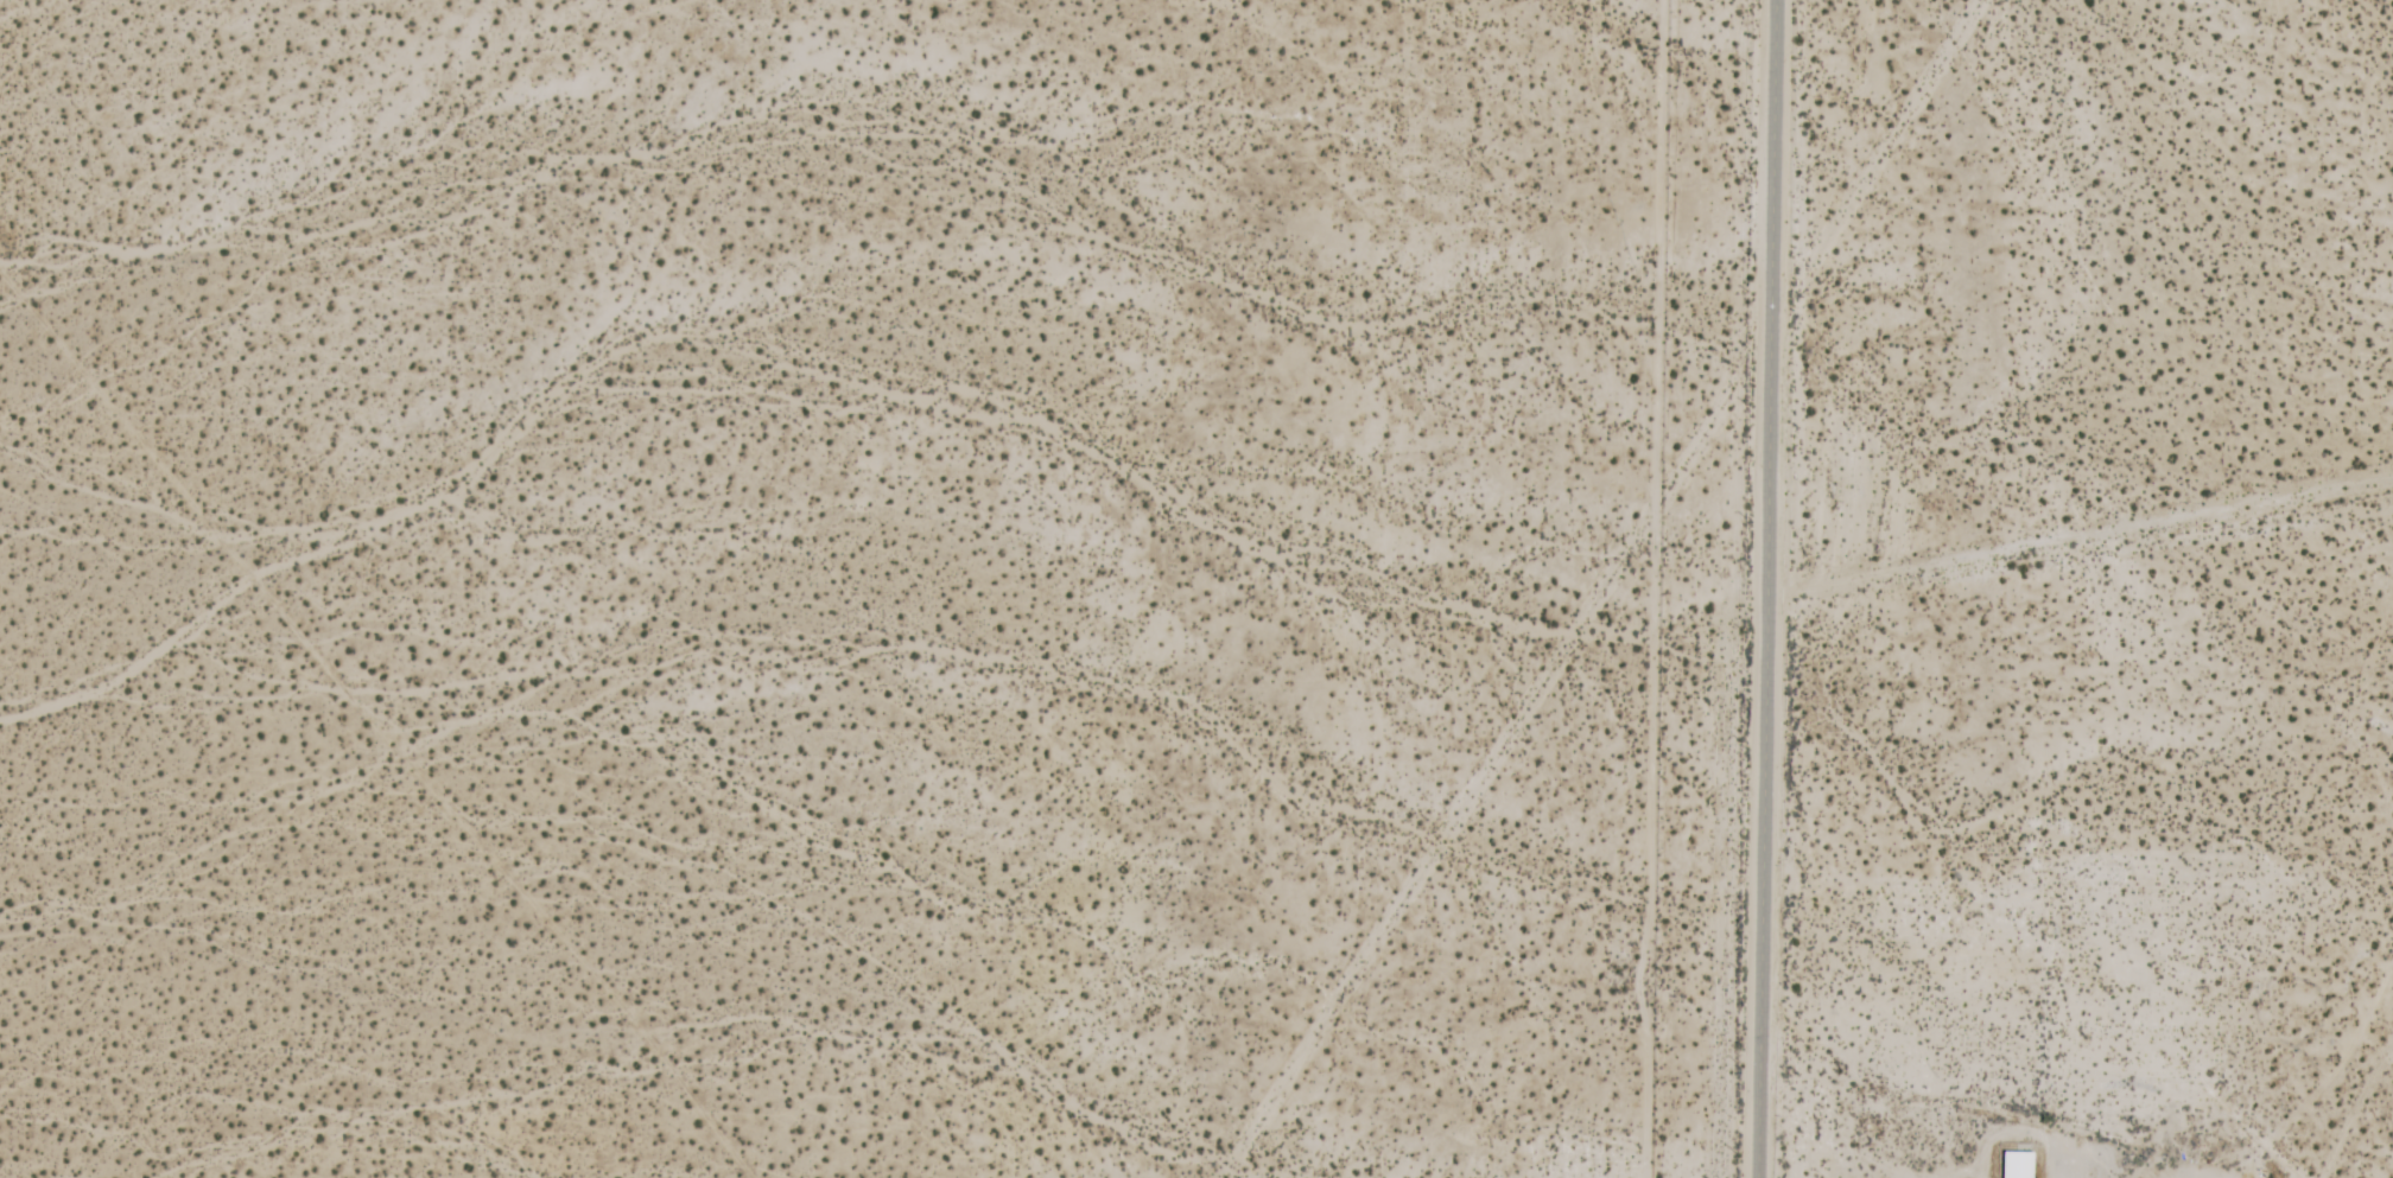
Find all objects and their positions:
road: (1766, 588)
building: (2017, 1165)

